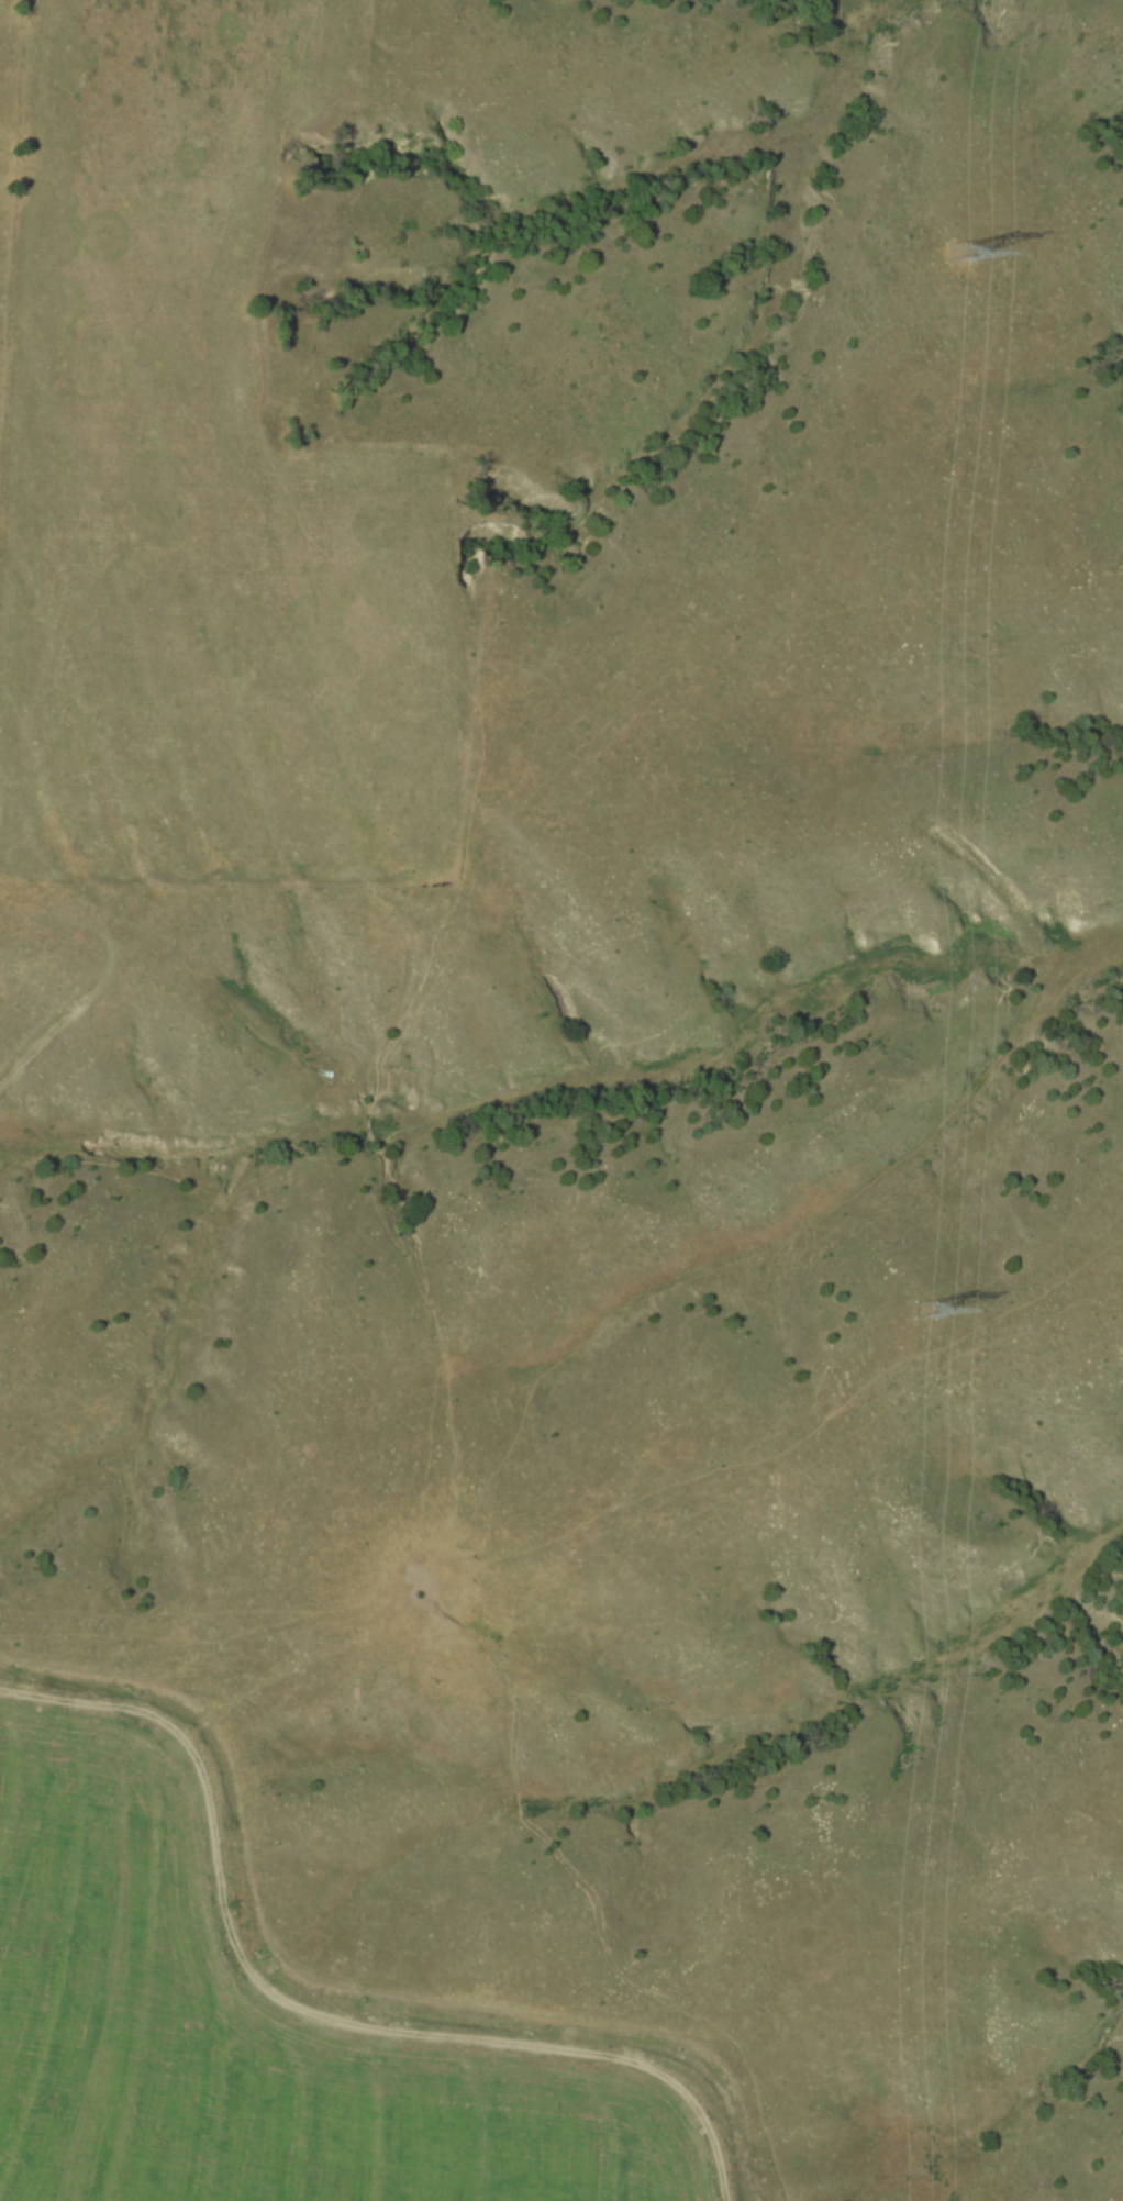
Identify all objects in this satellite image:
power tower: (959, 254)
power tower: (925, 1310)
road: (304, 2016)

